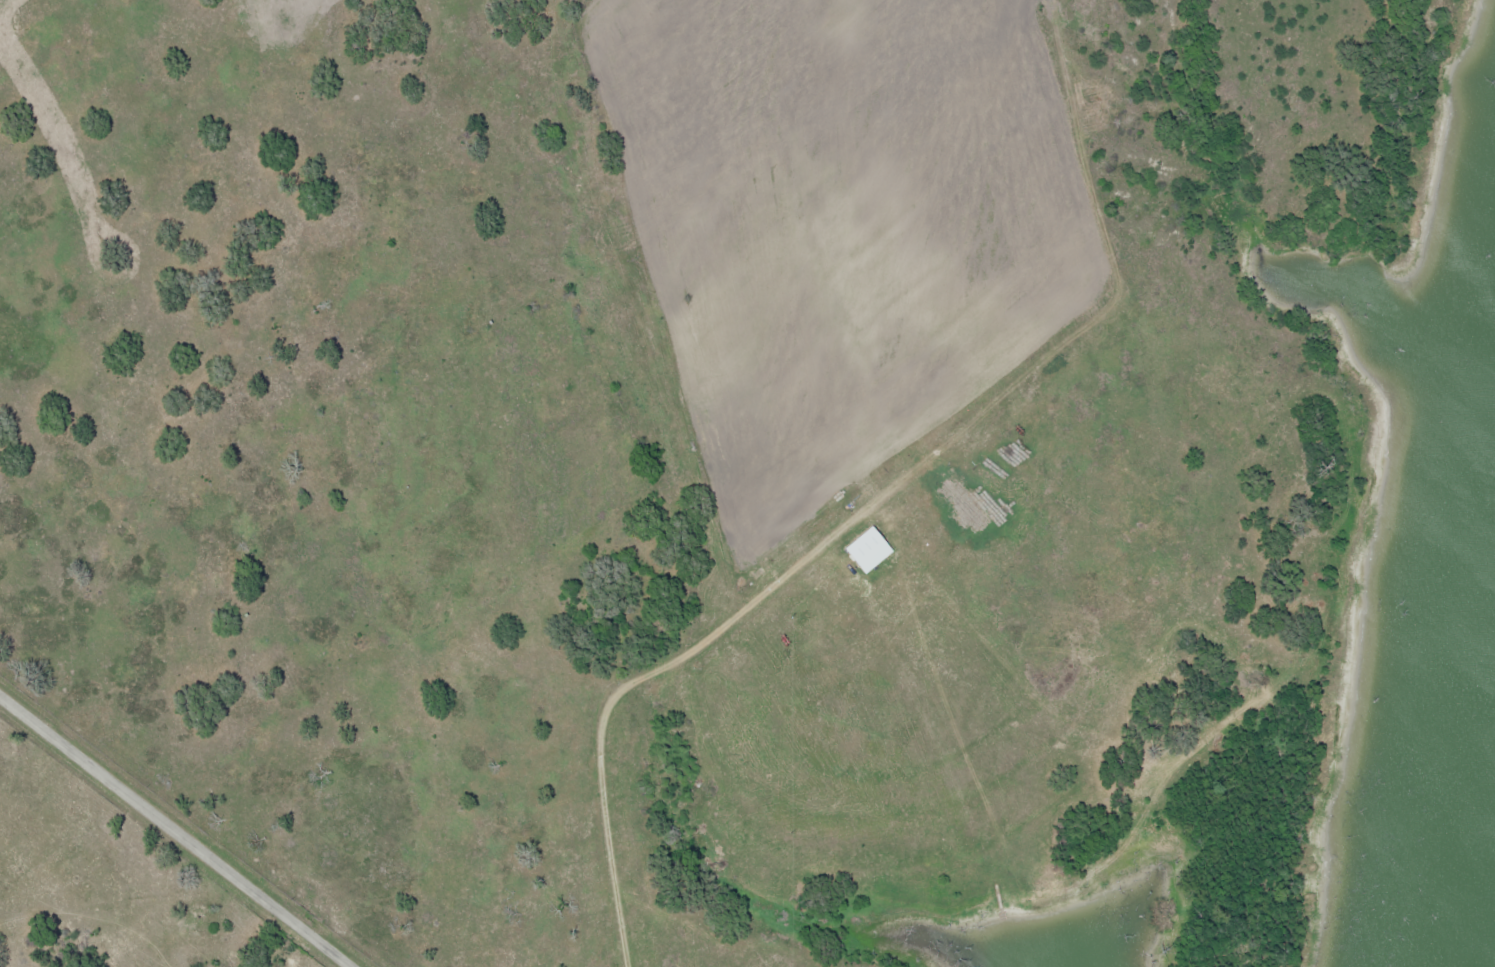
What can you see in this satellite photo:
road: (179, 829)
river: (1483, 924)

